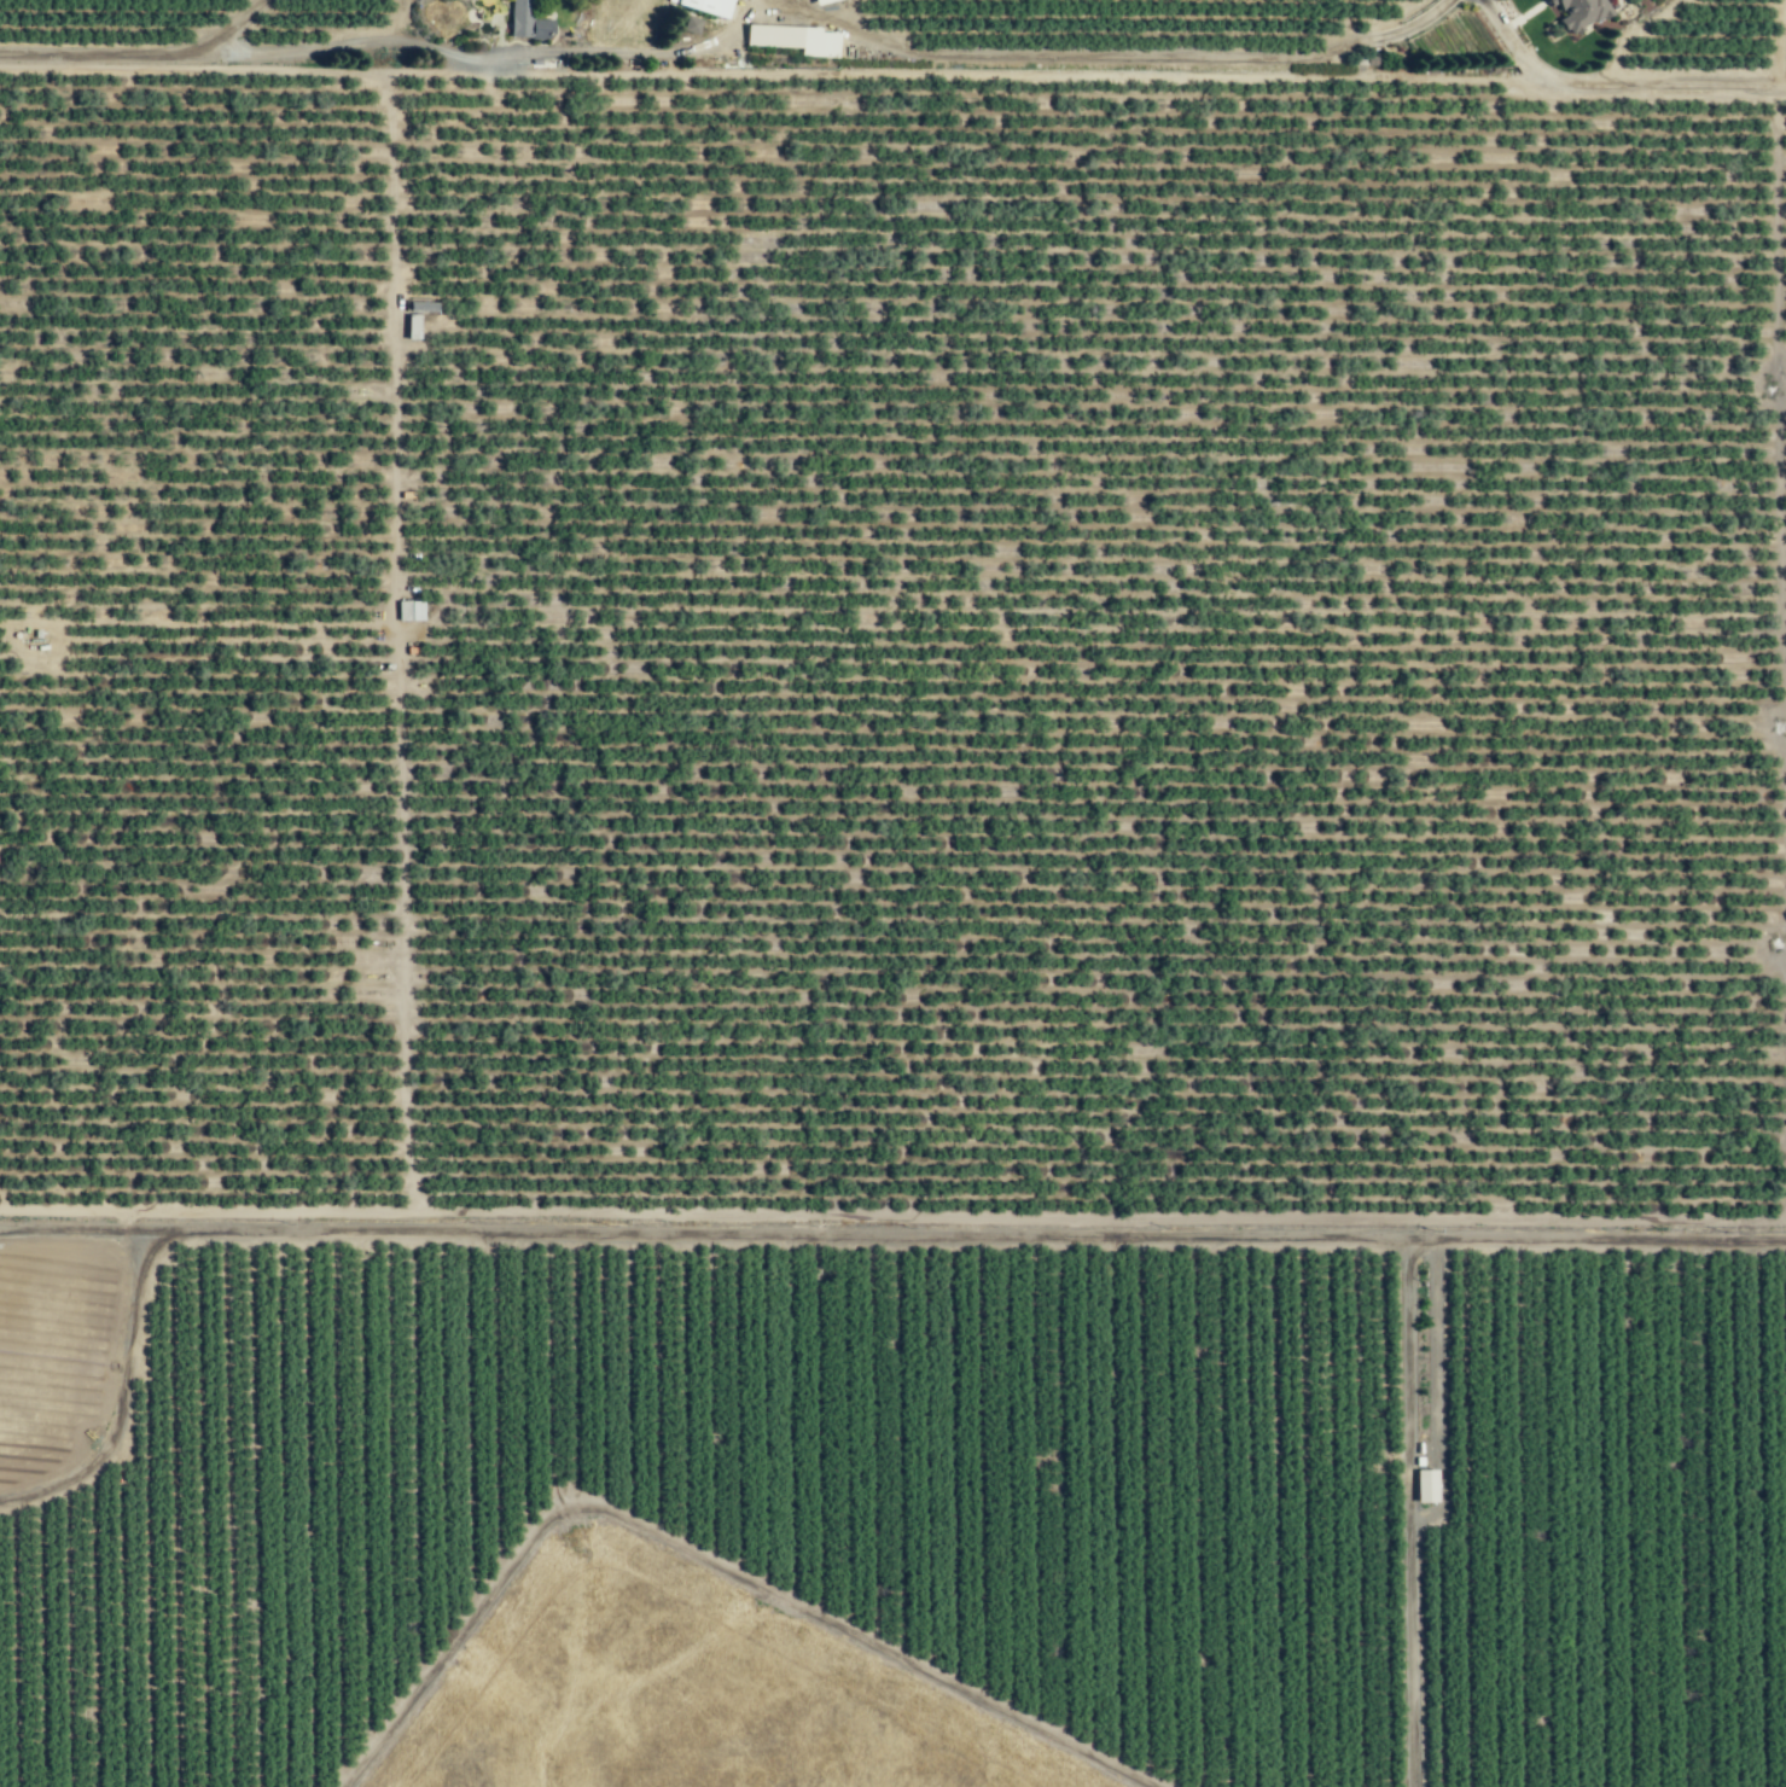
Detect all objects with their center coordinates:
road: (772, 5)
building: (704, 6)
road: (1442, 12)
building: (523, 22)
road: (231, 25)
road: (295, 51)
road: (1186, 56)
building: (415, 316)
building: (407, 611)
crop: (896, 611)
crop: (901, 861)
road: (892, 1229)
road: (1426, 1508)

